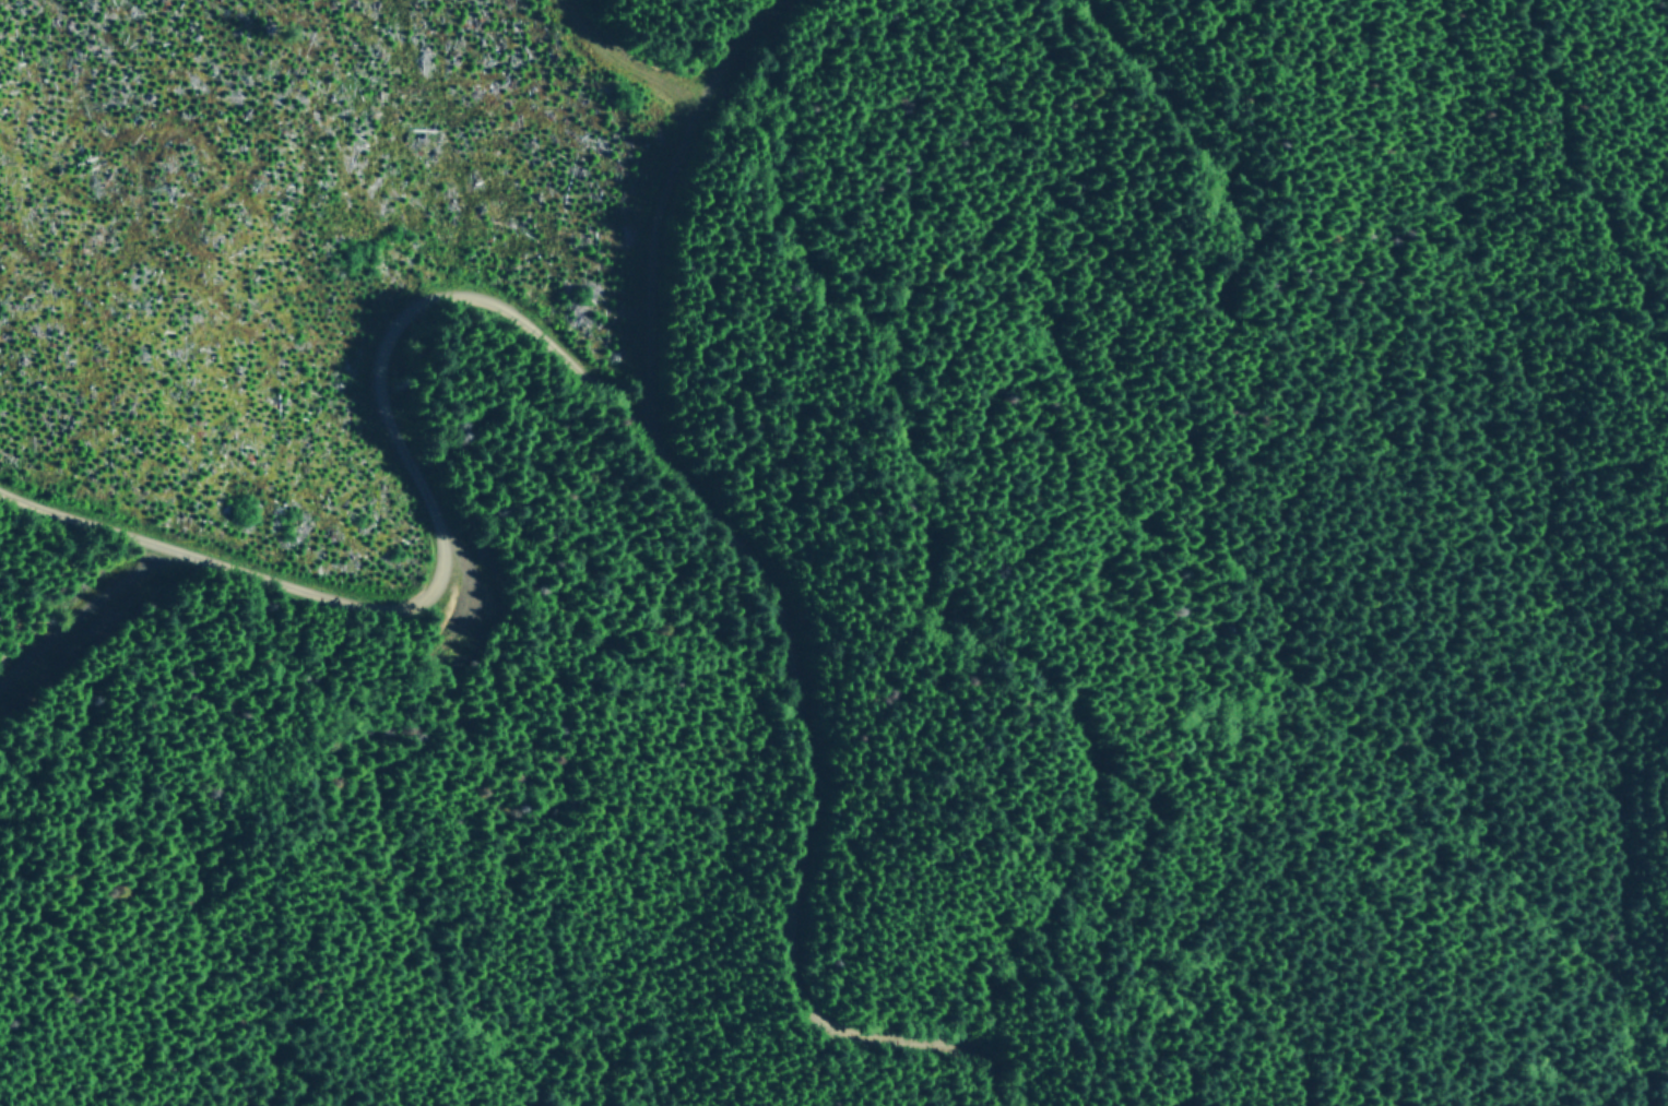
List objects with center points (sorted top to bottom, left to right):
road: (630, 56)
road: (1215, 155)
road: (1583, 178)
road: (679, 185)
road: (580, 360)
road: (1636, 464)
road: (85, 619)

